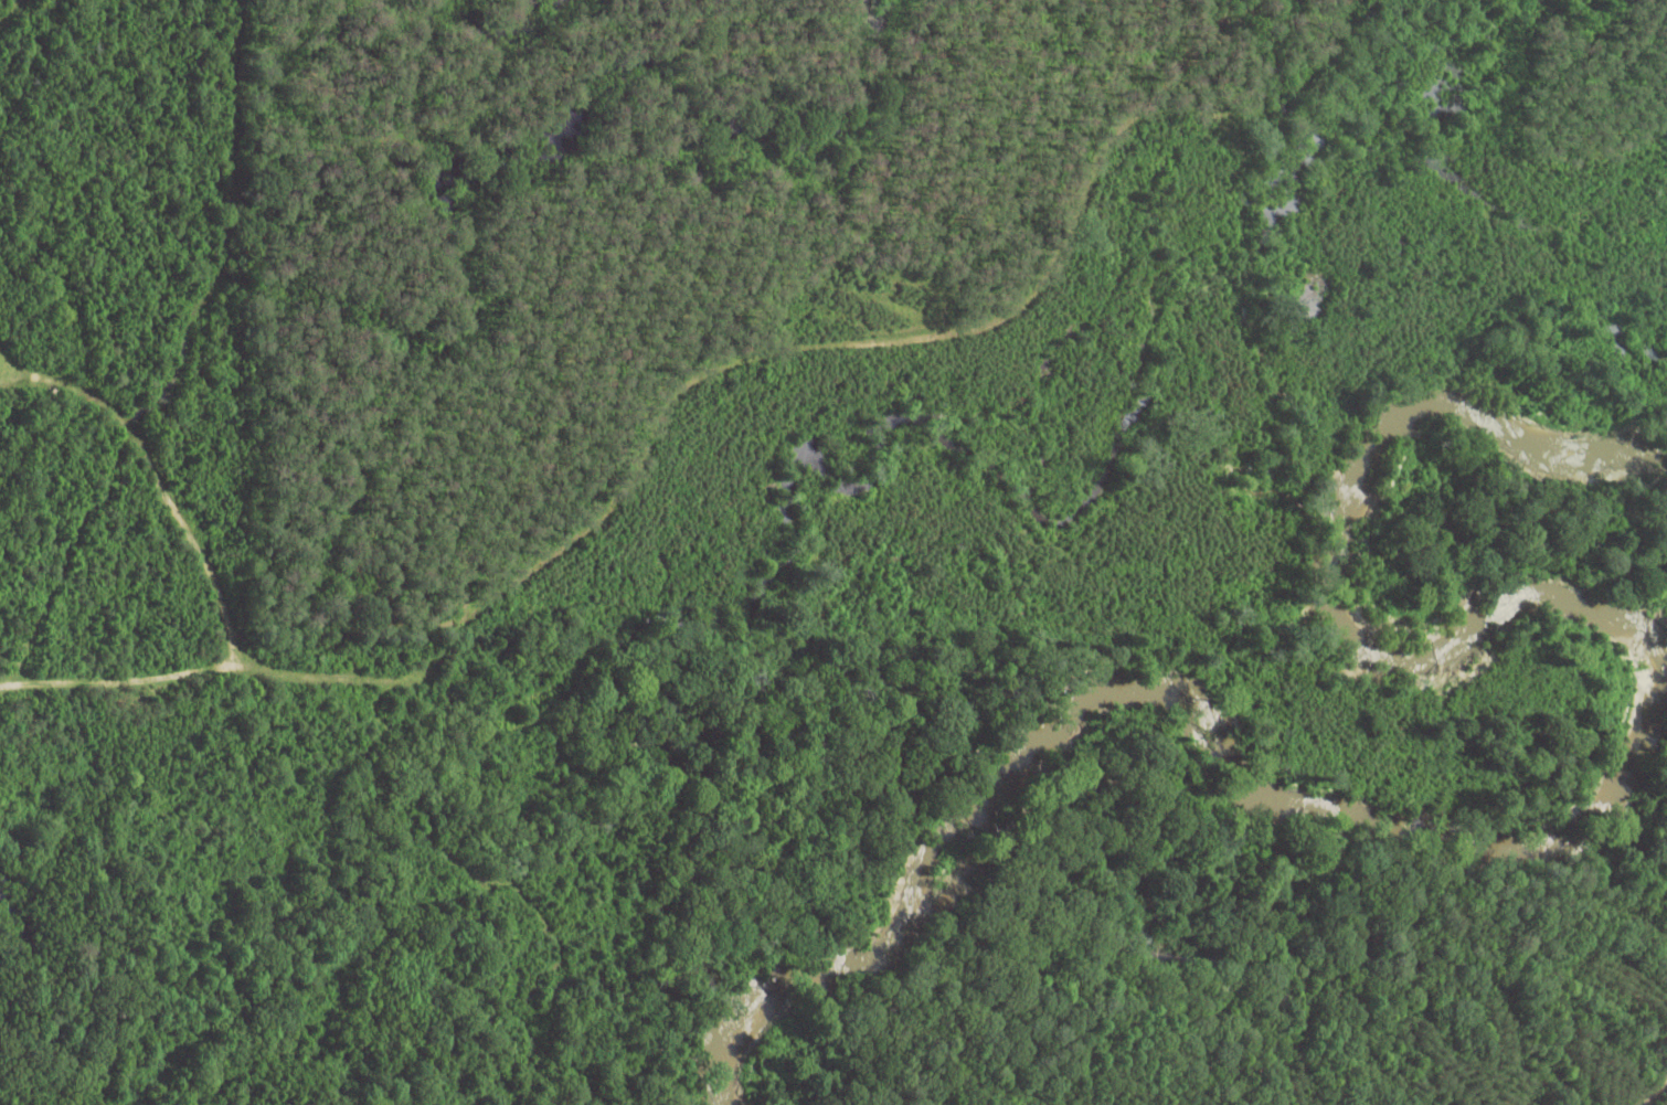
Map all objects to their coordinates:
river: (1561, 833)

